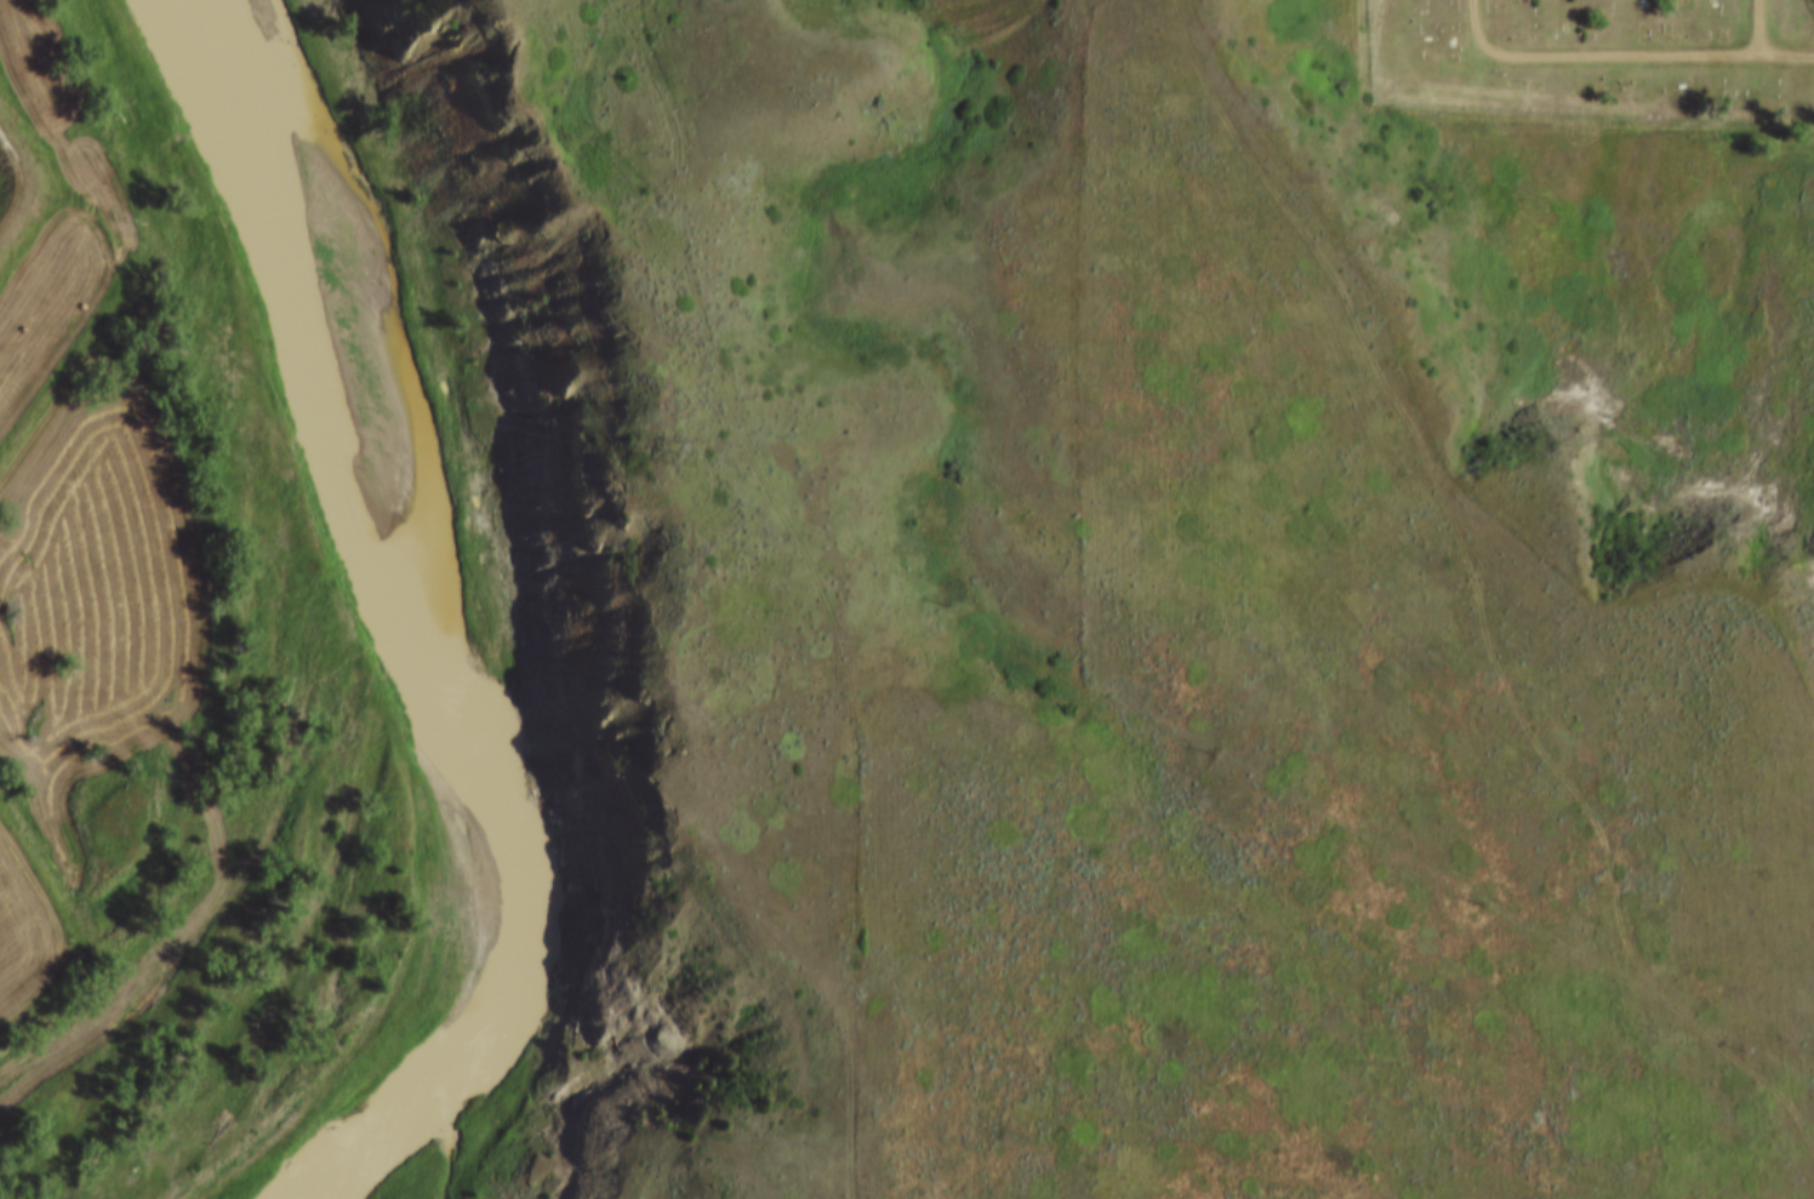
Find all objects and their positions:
road: (1757, 27)
road: (1625, 55)
road: (12, 175)
river: (447, 621)
road: (776, 924)

